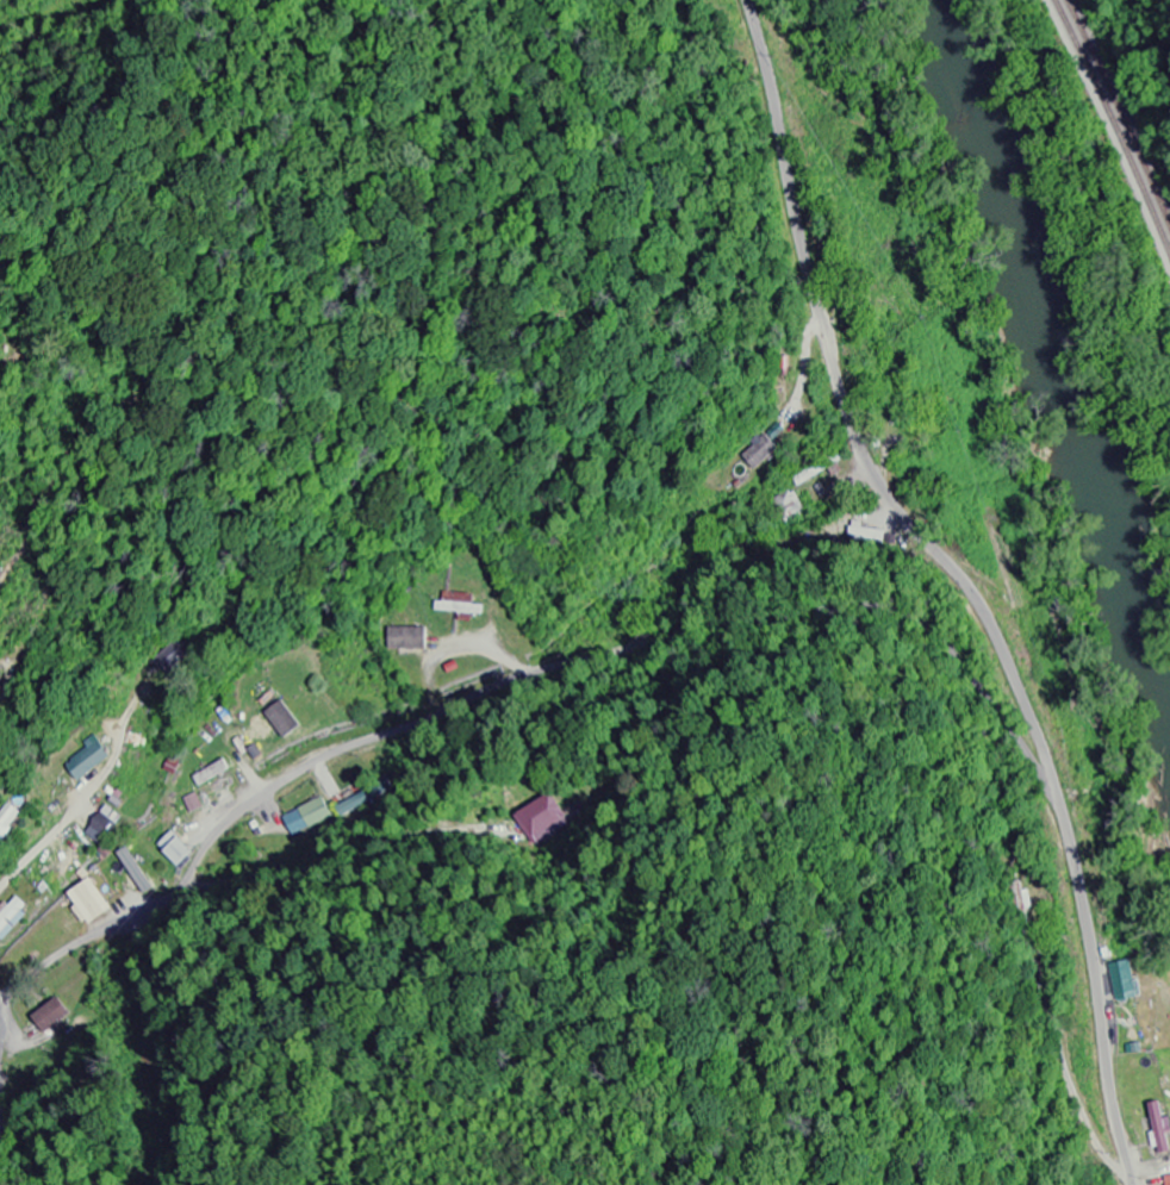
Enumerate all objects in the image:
railway: (1119, 114)
railway: (1113, 130)
river: (1064, 345)
building: (763, 453)
building: (867, 535)
road: (960, 582)
building: (463, 606)
building: (412, 640)
road: (516, 679)
building: (2, 694)
building: (287, 721)
building: (93, 759)
building: (175, 767)
building: (216, 774)
building: (228, 798)
building: (310, 817)
building: (543, 819)
building: (10, 821)
building: (107, 827)
building: (179, 850)
building: (138, 872)
building: (93, 903)
building: (14, 918)
building: (1127, 983)
building: (51, 1018)
building: (1163, 1129)
building: (1169, 1178)

